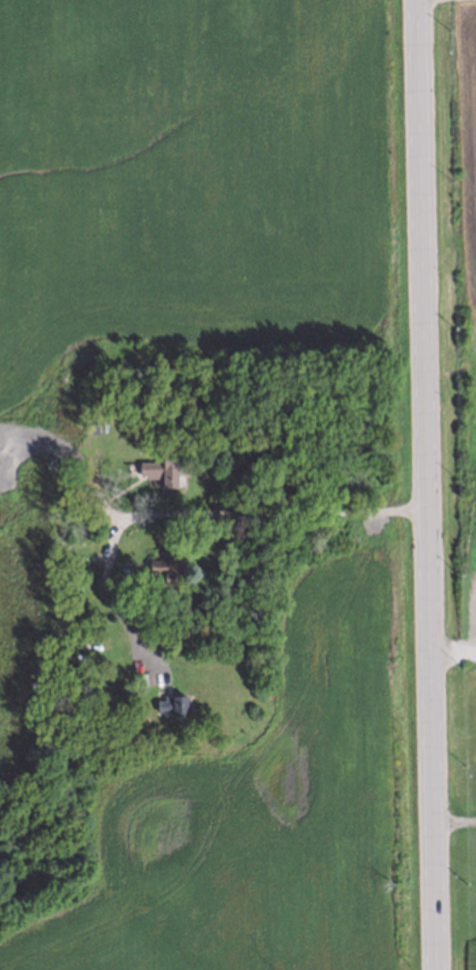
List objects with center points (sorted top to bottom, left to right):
building: (63, 403)
building: (88, 426)
building: (162, 467)
road: (427, 485)
building: (39, 511)
road: (191, 521)
building: (78, 530)
building: (167, 571)
road: (453, 658)
building: (170, 704)
road: (454, 820)

